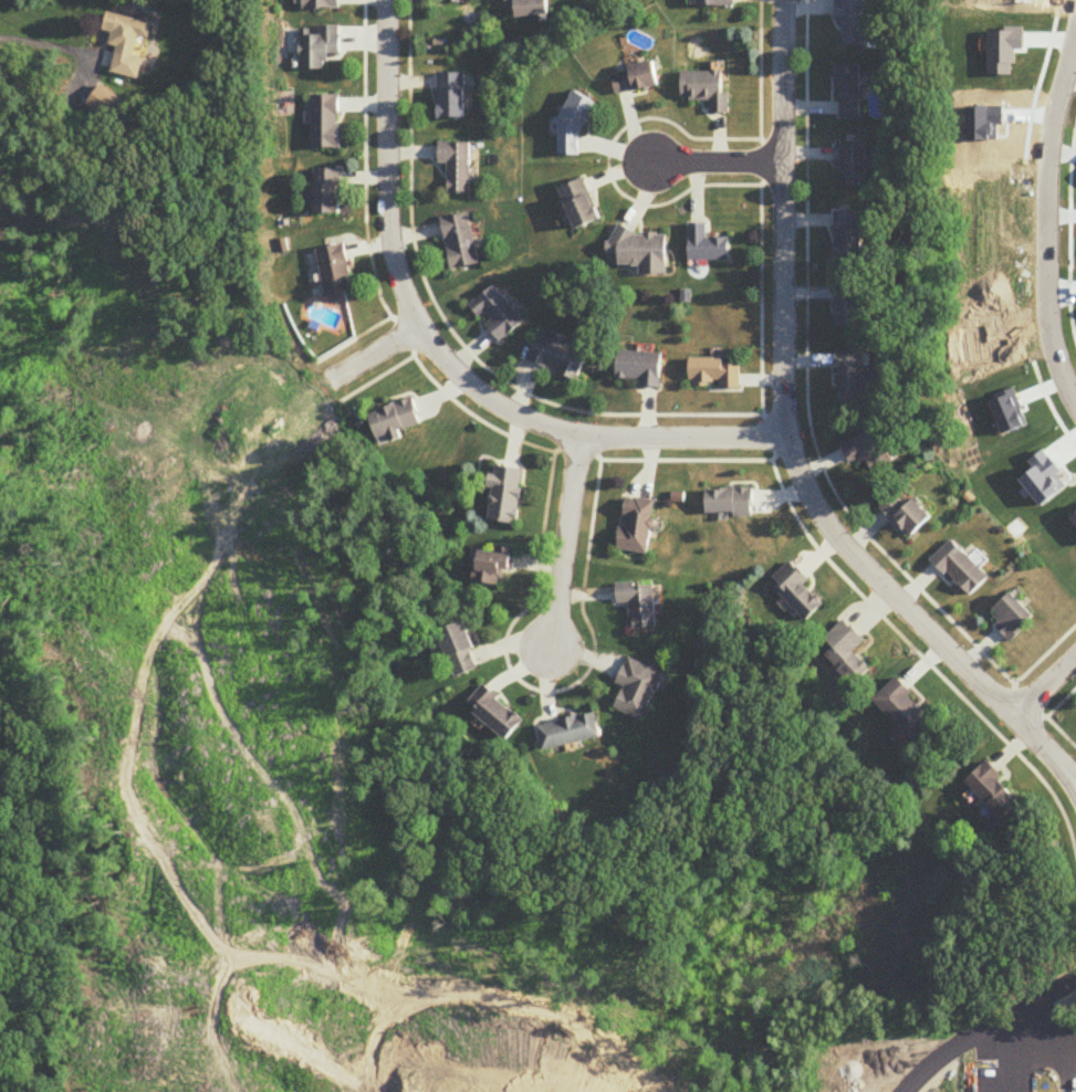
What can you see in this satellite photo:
building: (717, 3)
building: (317, 4)
building: (531, 8)
building: (854, 21)
building: (126, 39)
road: (46, 45)
building: (318, 48)
building: (636, 81)
building: (707, 91)
building: (849, 93)
building: (452, 97)
building: (325, 123)
road: (717, 164)
building: (853, 166)
building: (458, 167)
building: (327, 192)
building: (581, 206)
road: (1046, 208)
building: (848, 237)
building: (461, 242)
building: (707, 246)
building: (641, 251)
building: (335, 270)
building: (848, 308)
building: (499, 315)
road: (375, 354)
road: (441, 356)
building: (560, 358)
building: (641, 369)
building: (713, 375)
building: (850, 381)
building: (398, 421)
road: (790, 449)
building: (867, 453)
building: (508, 495)
building: (729, 504)
building: (905, 515)
building: (635, 526)
road: (565, 539)
building: (494, 566)
building: (959, 569)
building: (796, 591)
building: (636, 605)
building: (1010, 618)
building: (460, 651)
building: (847, 652)
road: (1045, 687)
building: (636, 689)
building: (905, 708)
building: (494, 712)
building: (567, 732)
building: (993, 790)
road: (1032, 1050)

